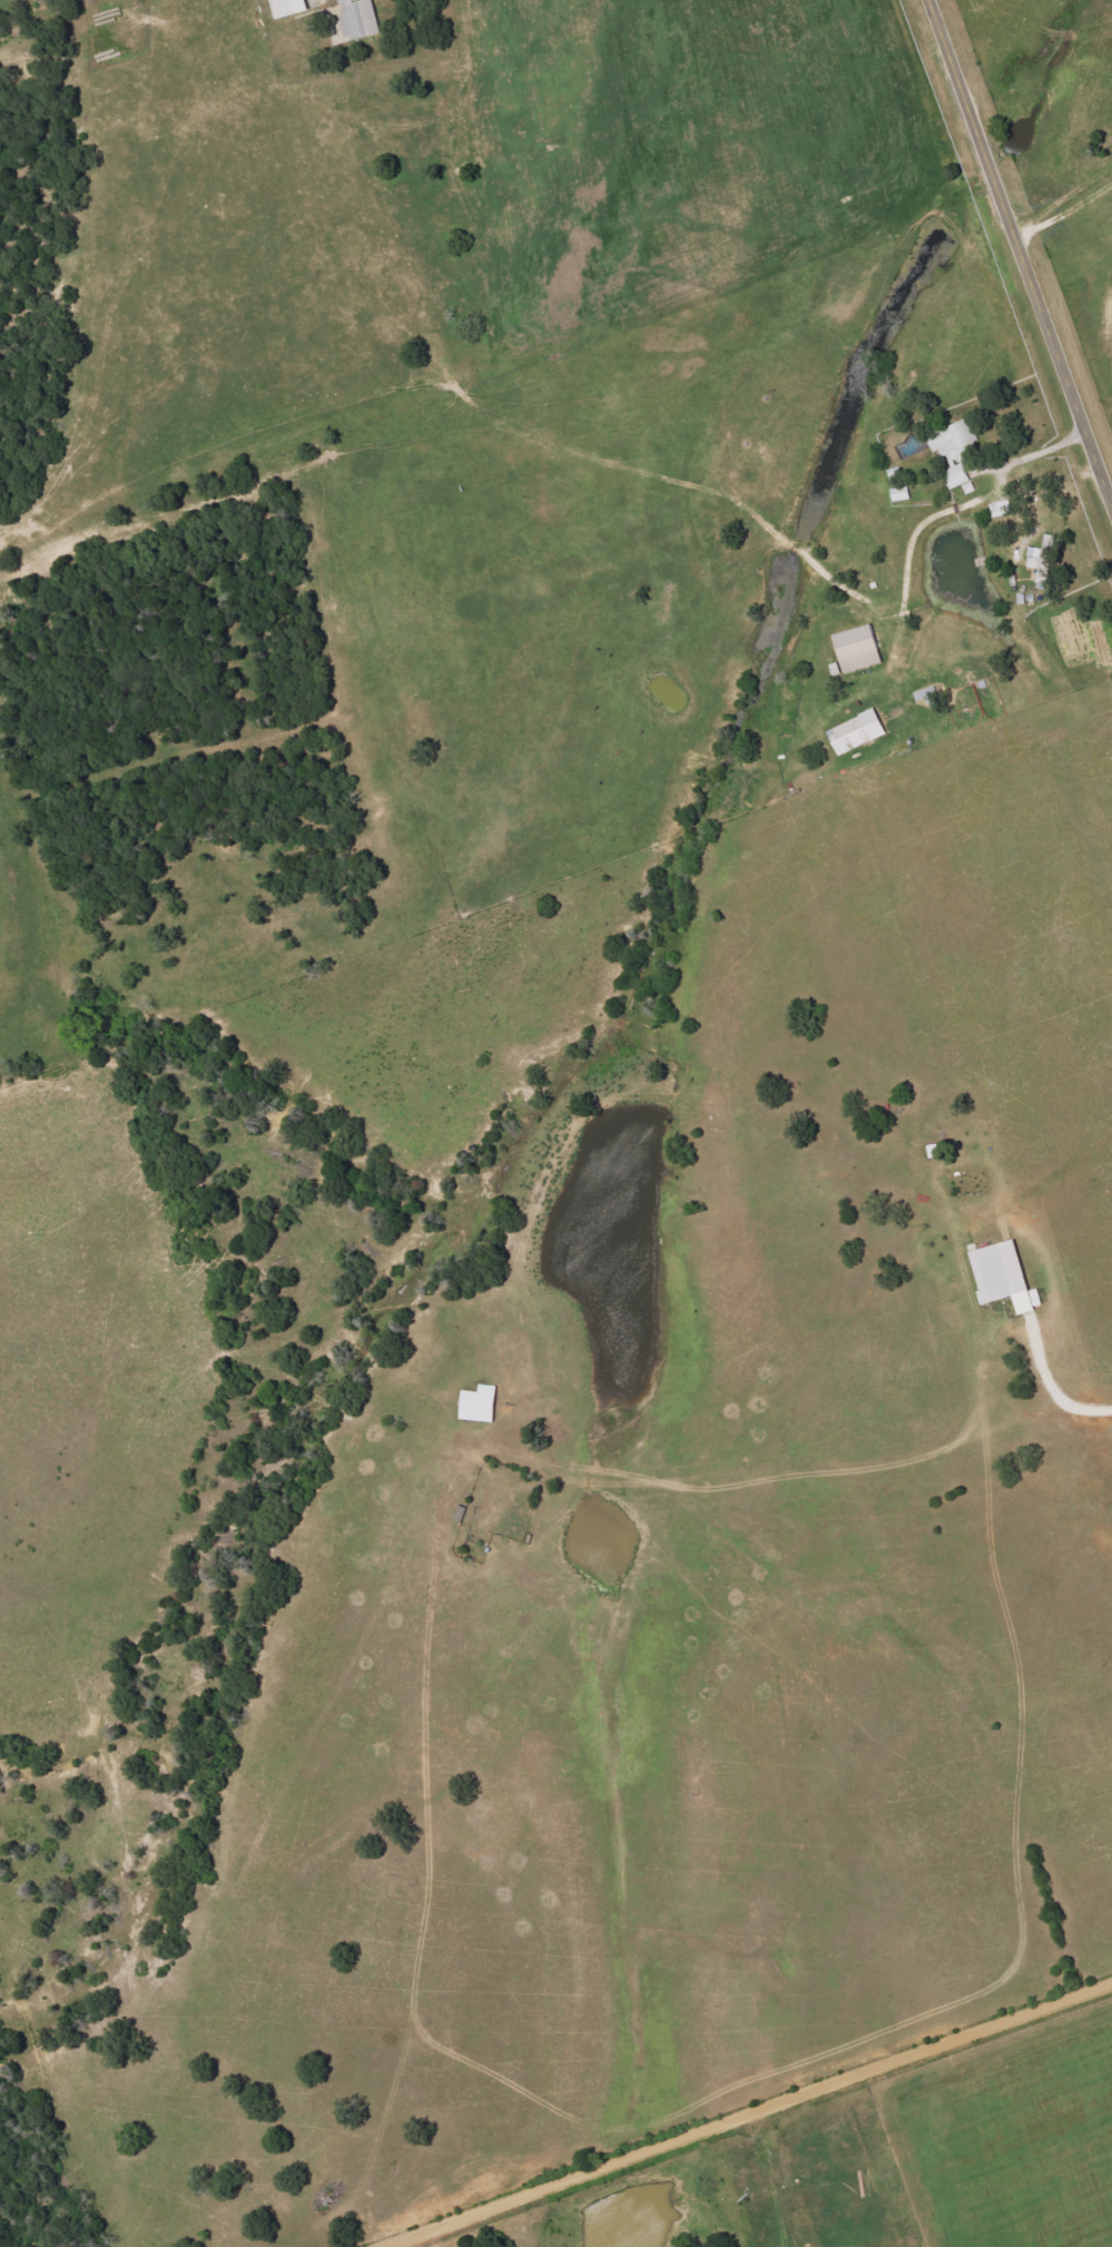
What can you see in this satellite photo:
building: (291, 8)
building: (361, 19)
road: (1020, 252)
building: (955, 451)
building: (902, 494)
building: (1001, 509)
building: (1034, 558)
building: (1042, 580)
building: (860, 649)
building: (859, 732)
building: (1006, 1275)
road: (1022, 1327)
building: (482, 1405)
road: (747, 2115)

